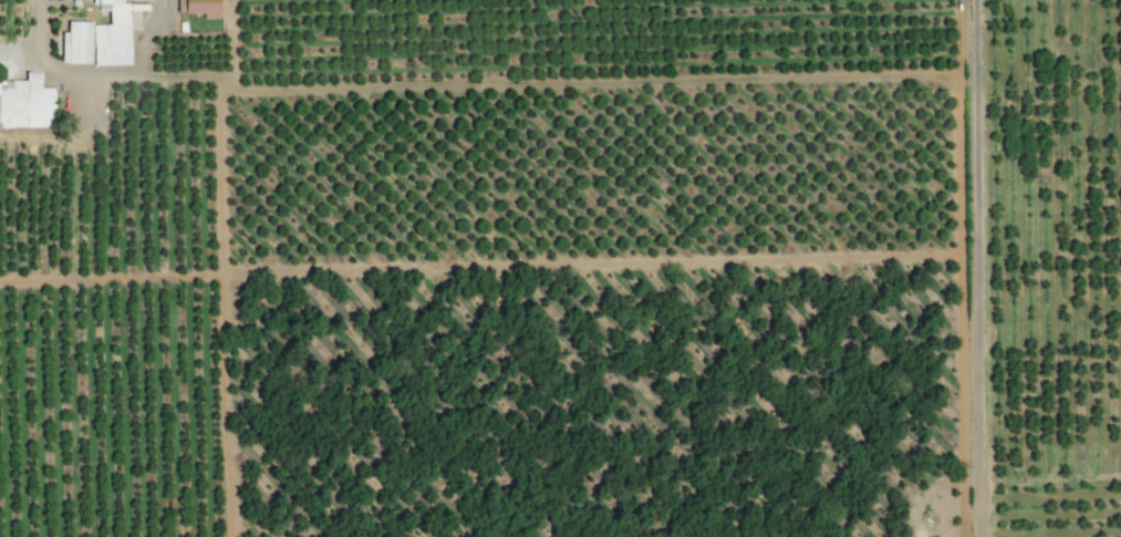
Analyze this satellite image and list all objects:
building: (200, 7)
building: (97, 38)
building: (25, 102)
road: (984, 268)

